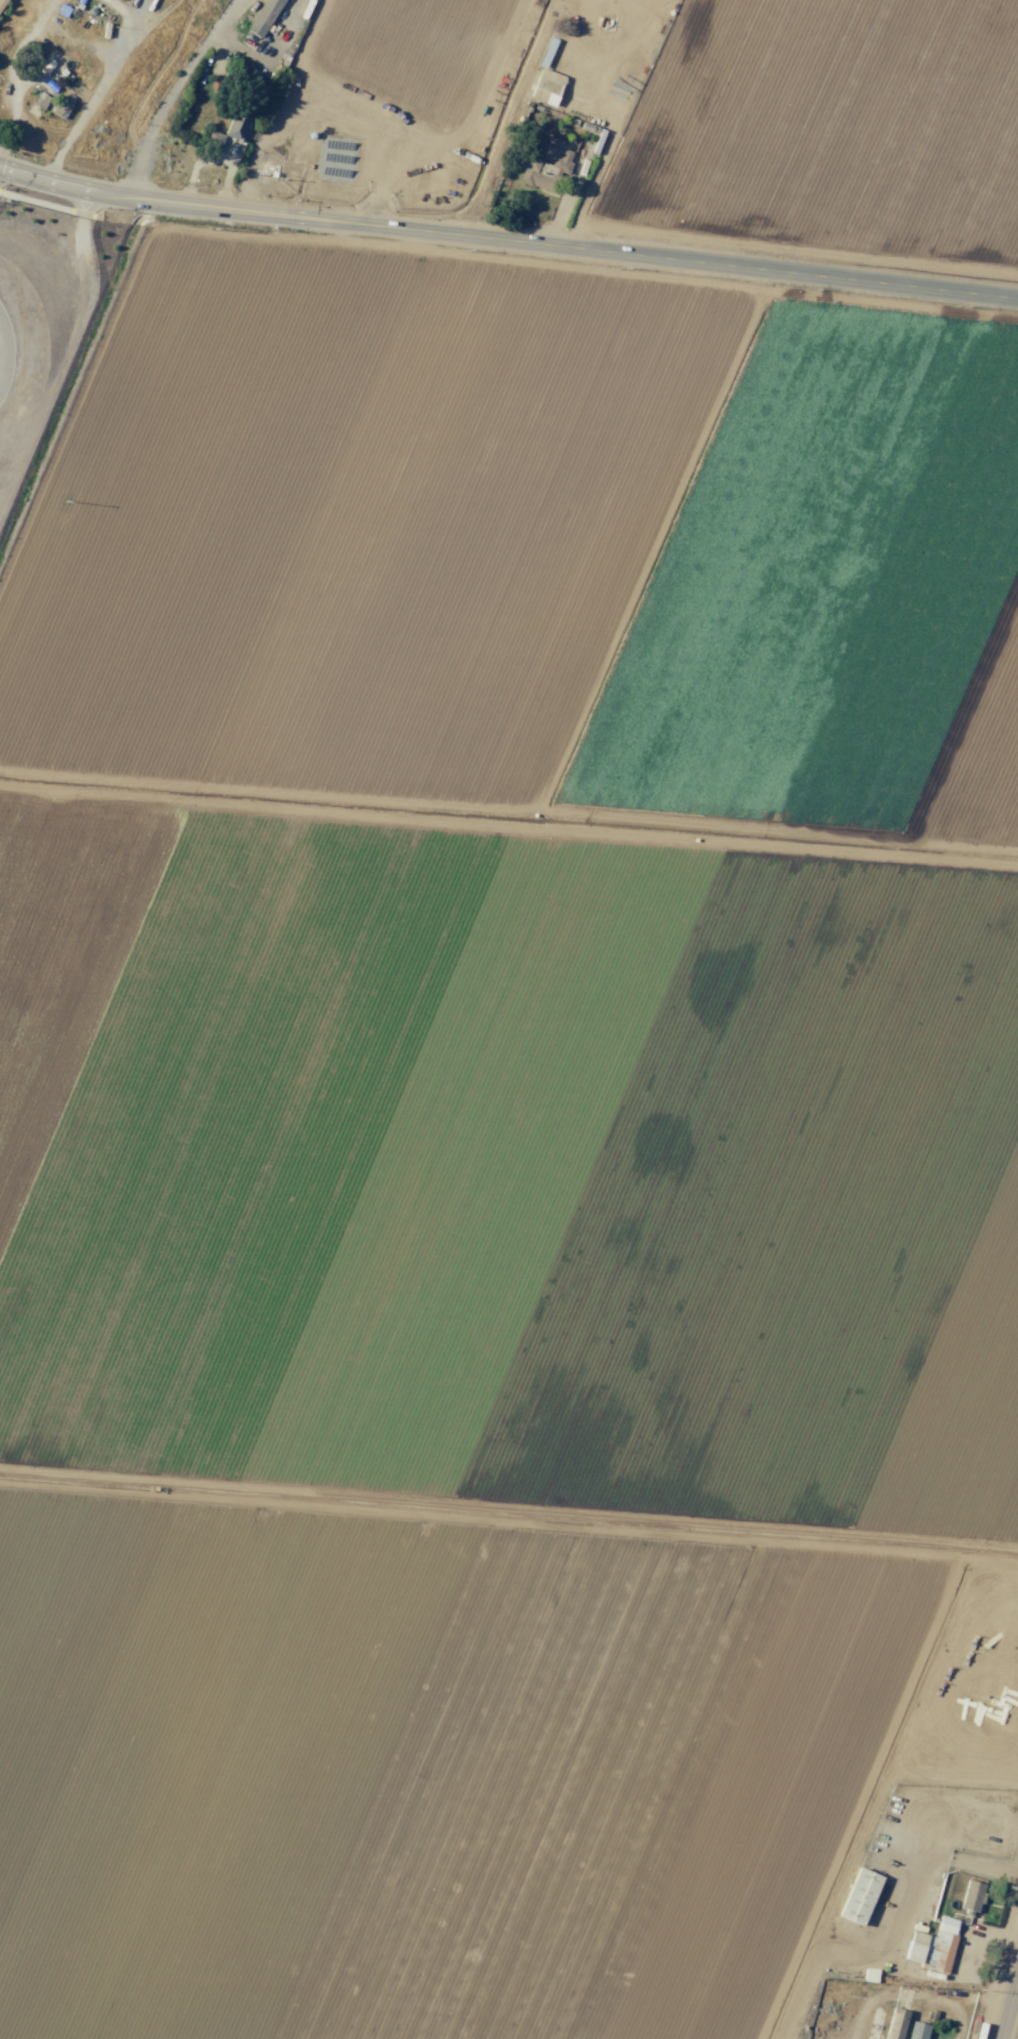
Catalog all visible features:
road: (225, 14)
crop: (404, 47)
road: (269, 57)
building: (548, 77)
building: (40, 100)
road: (161, 109)
building: (236, 124)
crop: (826, 131)
building: (544, 170)
road: (507, 239)
crop: (498, 1142)
building: (972, 1895)
building: (859, 1896)
road: (1009, 2005)
building: (895, 2024)
building: (917, 2031)

